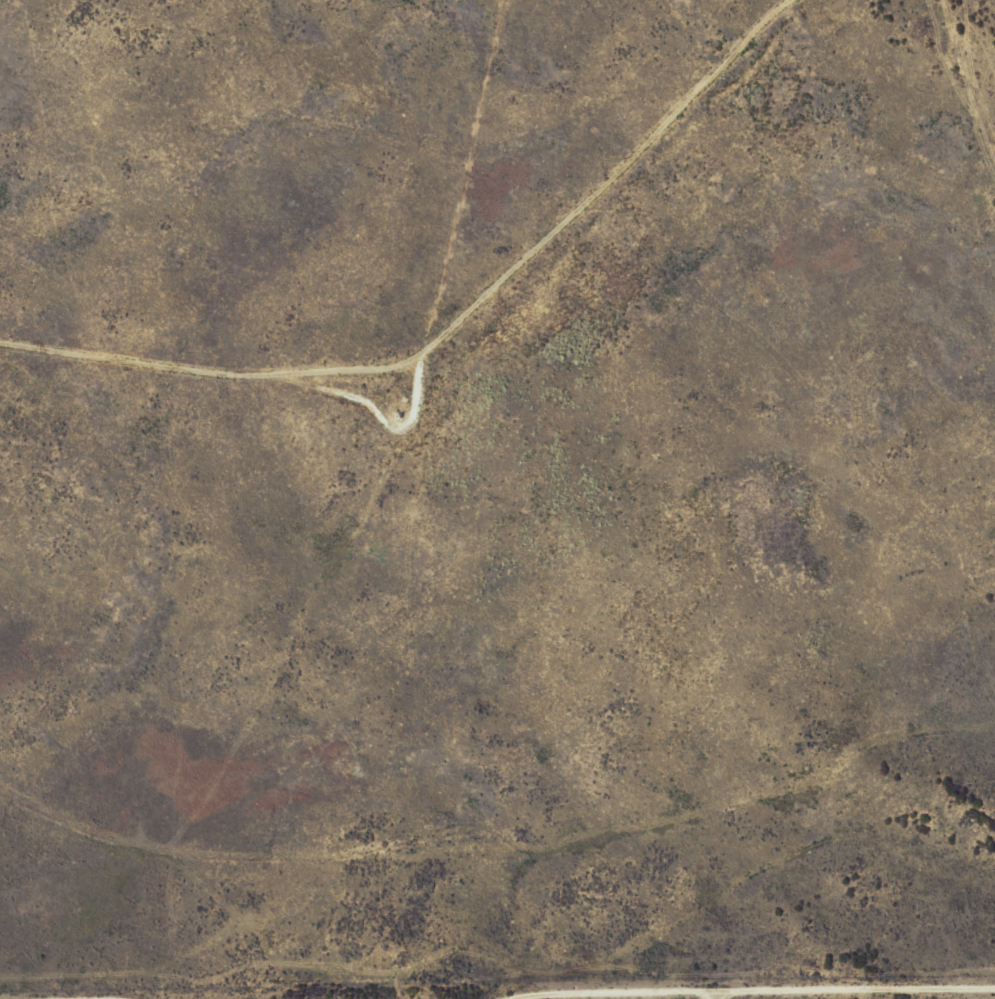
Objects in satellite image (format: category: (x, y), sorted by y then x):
road: (504, 277)
road: (71, 356)
road: (759, 989)

